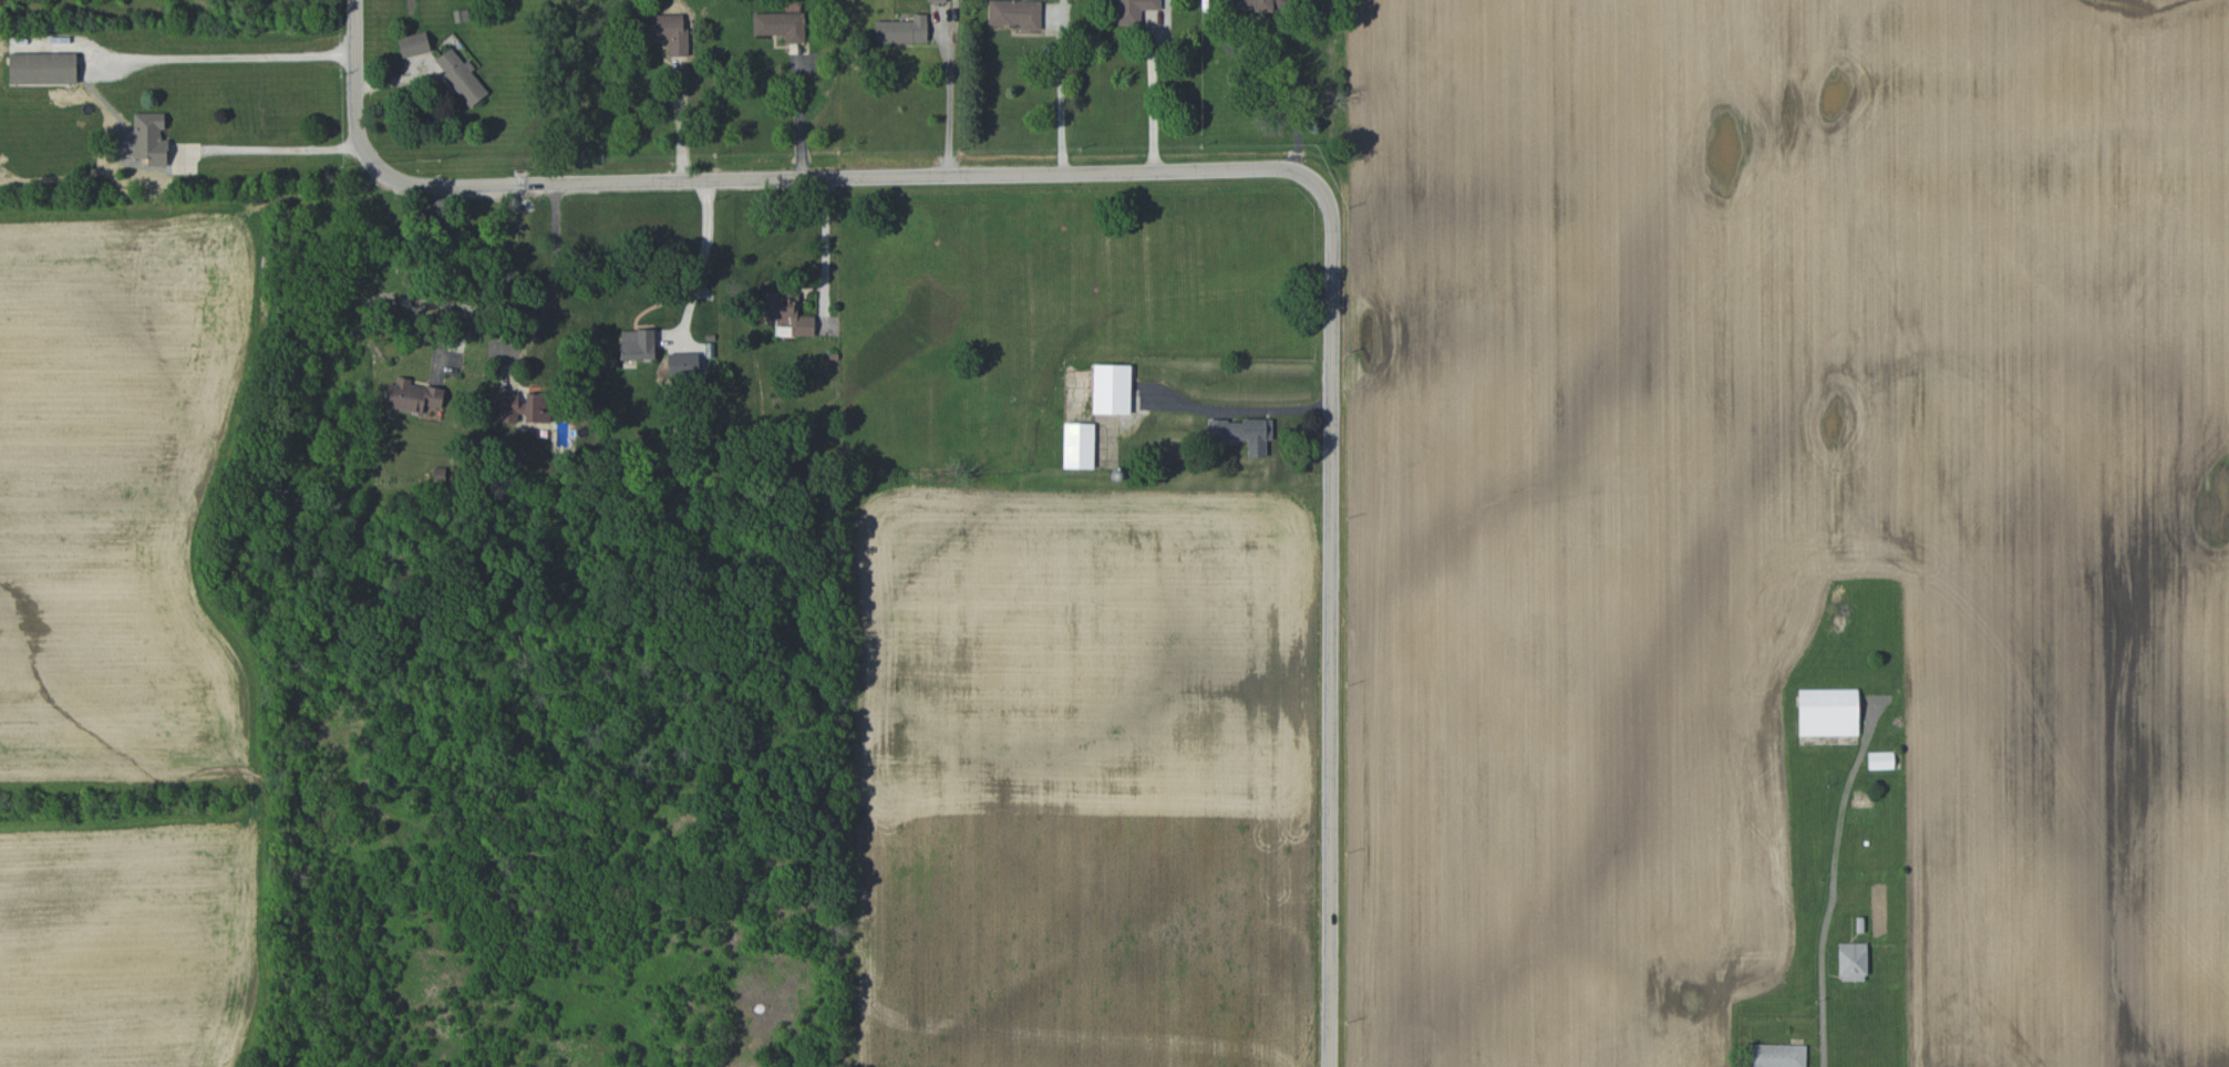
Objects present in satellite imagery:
building: (936, 0)
building: (1261, 4)
building: (1134, 10)
building: (1015, 13)
building: (782, 22)
building: (902, 30)
building: (664, 31)
building: (413, 43)
road: (237, 58)
building: (42, 68)
building: (461, 76)
road: (1263, 83)
road: (1061, 92)
road: (951, 96)
road: (1156, 96)
road: (799, 120)
road: (680, 122)
building: (149, 138)
road: (278, 148)
road: (1207, 166)
road: (825, 250)
road: (706, 251)
road: (556, 261)
road: (445, 269)
building: (786, 312)
building: (637, 344)
building: (1111, 389)
building: (522, 406)
road: (1273, 411)
building: (1242, 433)
building: (1077, 445)
park: (173, 484)
building: (1827, 712)
building: (1880, 759)
road: (1829, 907)
building: (1853, 961)
road: (1157, 995)
building: (469, 1002)
parking lot: (393, 1015)
parking lot: (726, 1017)
road: (1250, 1033)
road: (723, 1036)
road: (402, 1037)
building: (1776, 1056)

